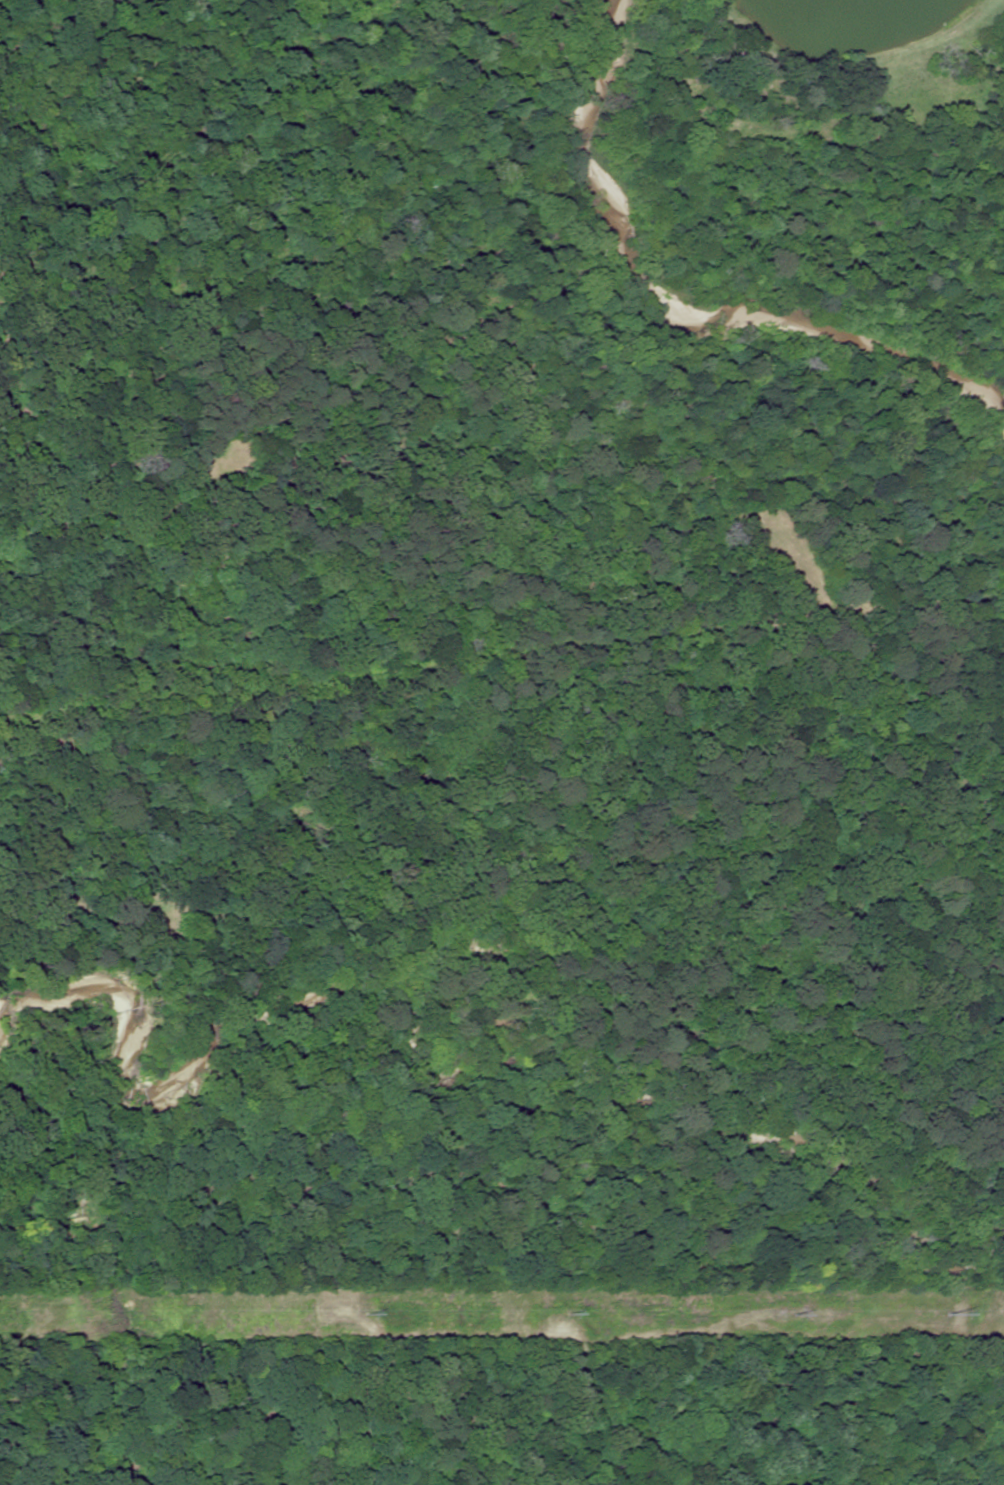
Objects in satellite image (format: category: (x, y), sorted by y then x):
power tower: (366, 1312)
power tower: (795, 1312)

